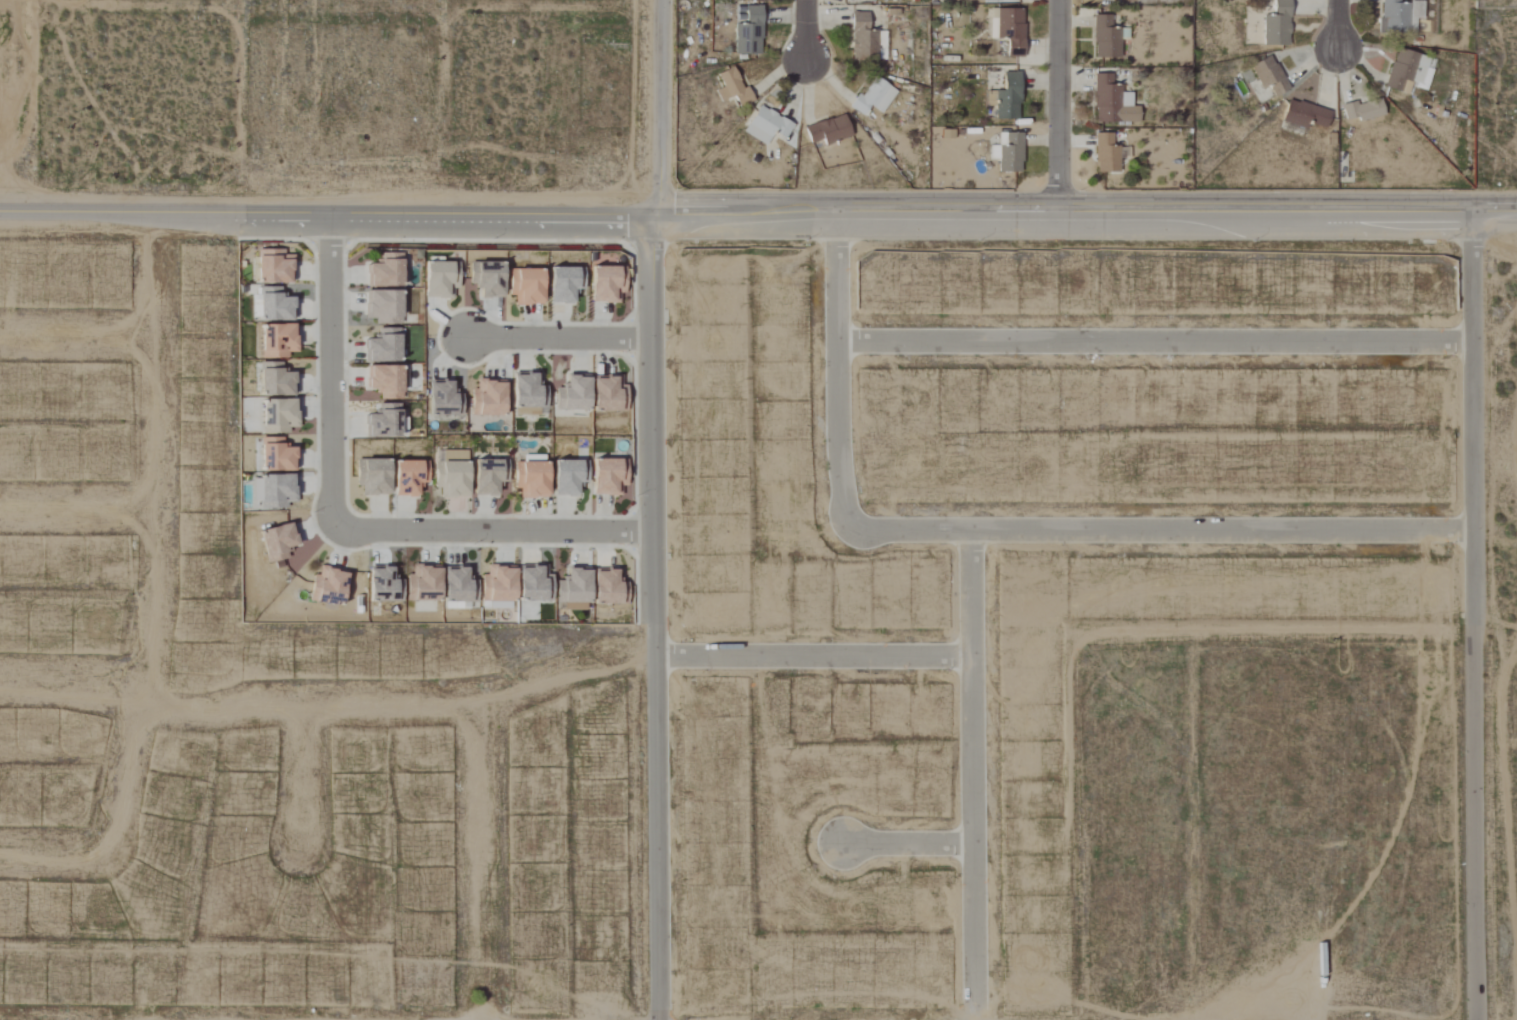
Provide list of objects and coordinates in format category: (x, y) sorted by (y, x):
park: (1495, 4)
building: (1395, 16)
building: (1278, 25)
road: (1339, 26)
road: (807, 27)
building: (1012, 30)
building: (750, 33)
building: (863, 39)
building: (1106, 39)
building: (1409, 71)
building: (1269, 76)
building: (733, 88)
building: (875, 96)
building: (1009, 98)
road: (1057, 101)
building: (1113, 103)
building: (1363, 110)
building: (1305, 115)
building: (767, 126)
building: (829, 131)
building: (1009, 154)
building: (1107, 154)
road: (1494, 204)
road: (735, 211)
building: (274, 266)
building: (385, 270)
building: (441, 277)
building: (487, 278)
building: (607, 283)
building: (562, 284)
building: (527, 285)
building: (384, 306)
building: (276, 307)
road: (77, 338)
road: (560, 338)
building: (279, 340)
road: (1156, 341)
building: (384, 346)
road: (838, 366)
road: (332, 375)
building: (276, 379)
building: (387, 380)
building: (574, 393)
building: (605, 393)
building: (529, 394)
building: (489, 397)
building: (443, 398)
building: (279, 415)
building: (384, 421)
building: (277, 454)
building: (452, 474)
building: (373, 476)
building: (490, 476)
building: (570, 476)
building: (609, 476)
building: (410, 477)
building: (532, 478)
building: (256, 488)
building: (278, 490)
road: (78, 507)
road: (654, 509)
road: (1164, 528)
road: (495, 529)
building: (278, 541)
road: (156, 543)
building: (424, 583)
building: (499, 583)
building: (535, 584)
building: (384, 585)
building: (607, 586)
building: (459, 589)
building: (575, 589)
road: (1476, 611)
road: (1496, 640)
road: (815, 656)
road: (329, 707)
road: (975, 773)
road: (303, 779)
road: (908, 843)
road: (51, 855)
road: (482, 863)

